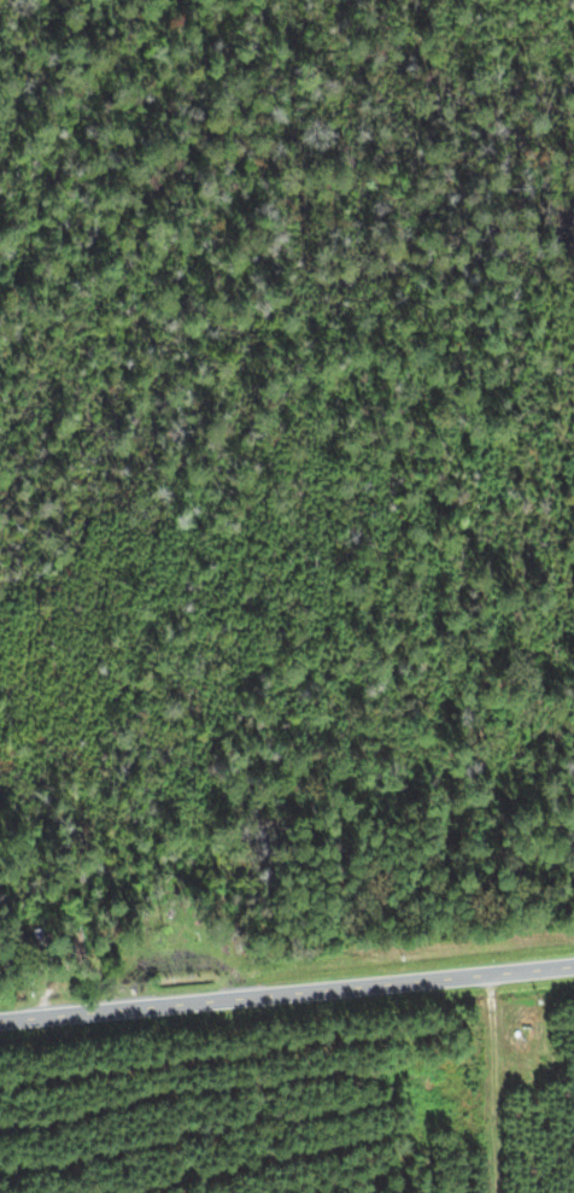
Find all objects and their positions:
road: (287, 993)

